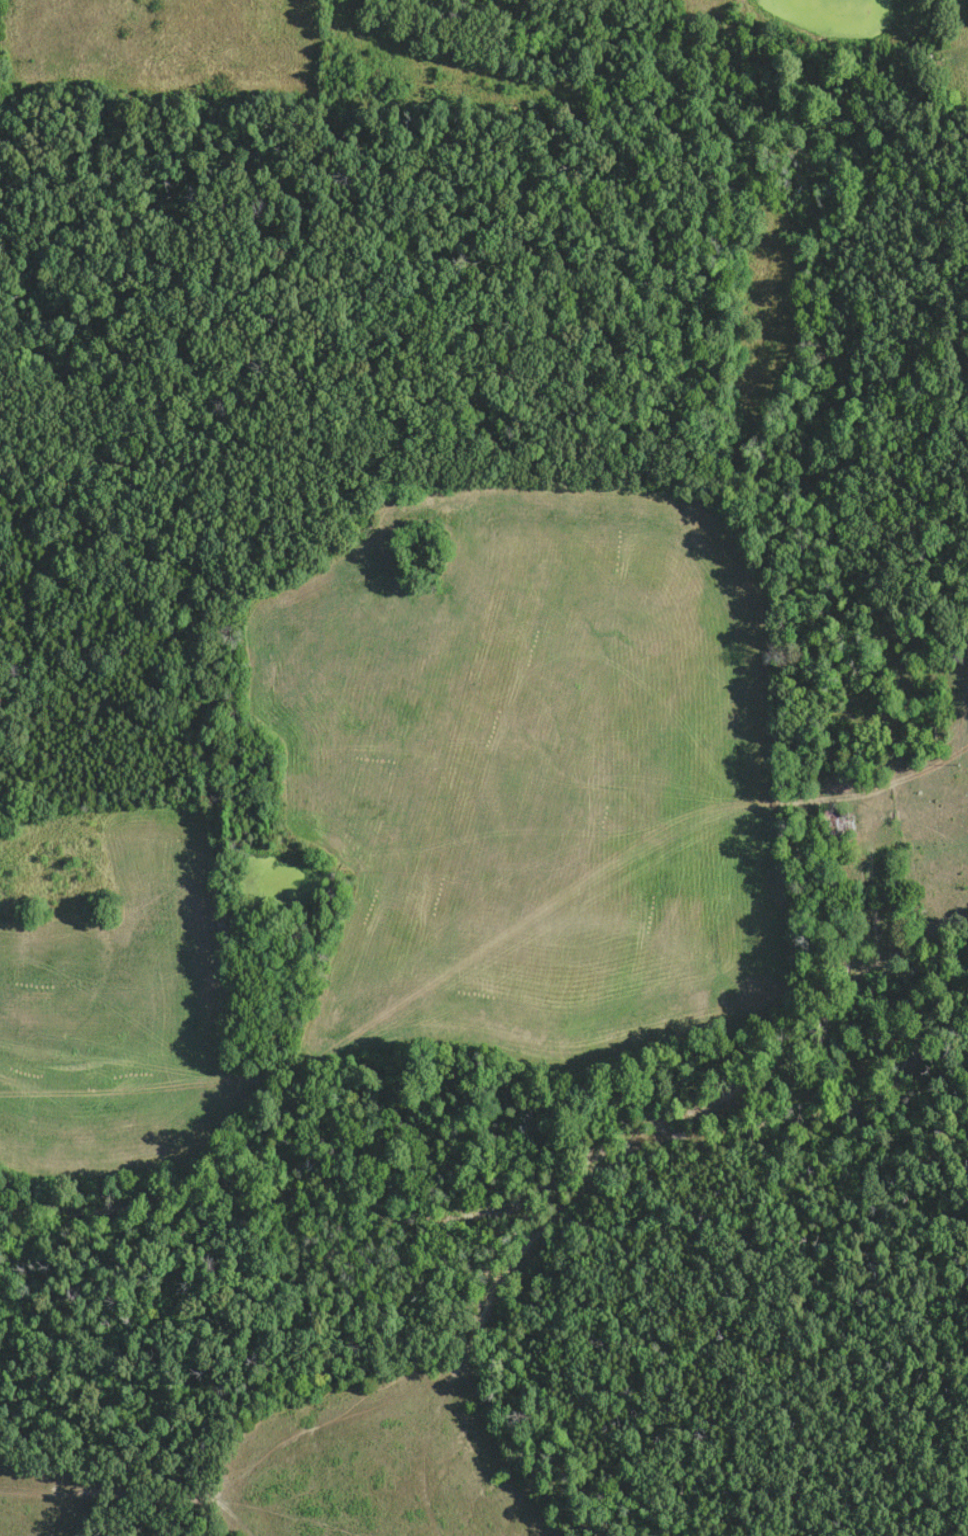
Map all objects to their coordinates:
road: (905, 778)
building: (839, 825)

